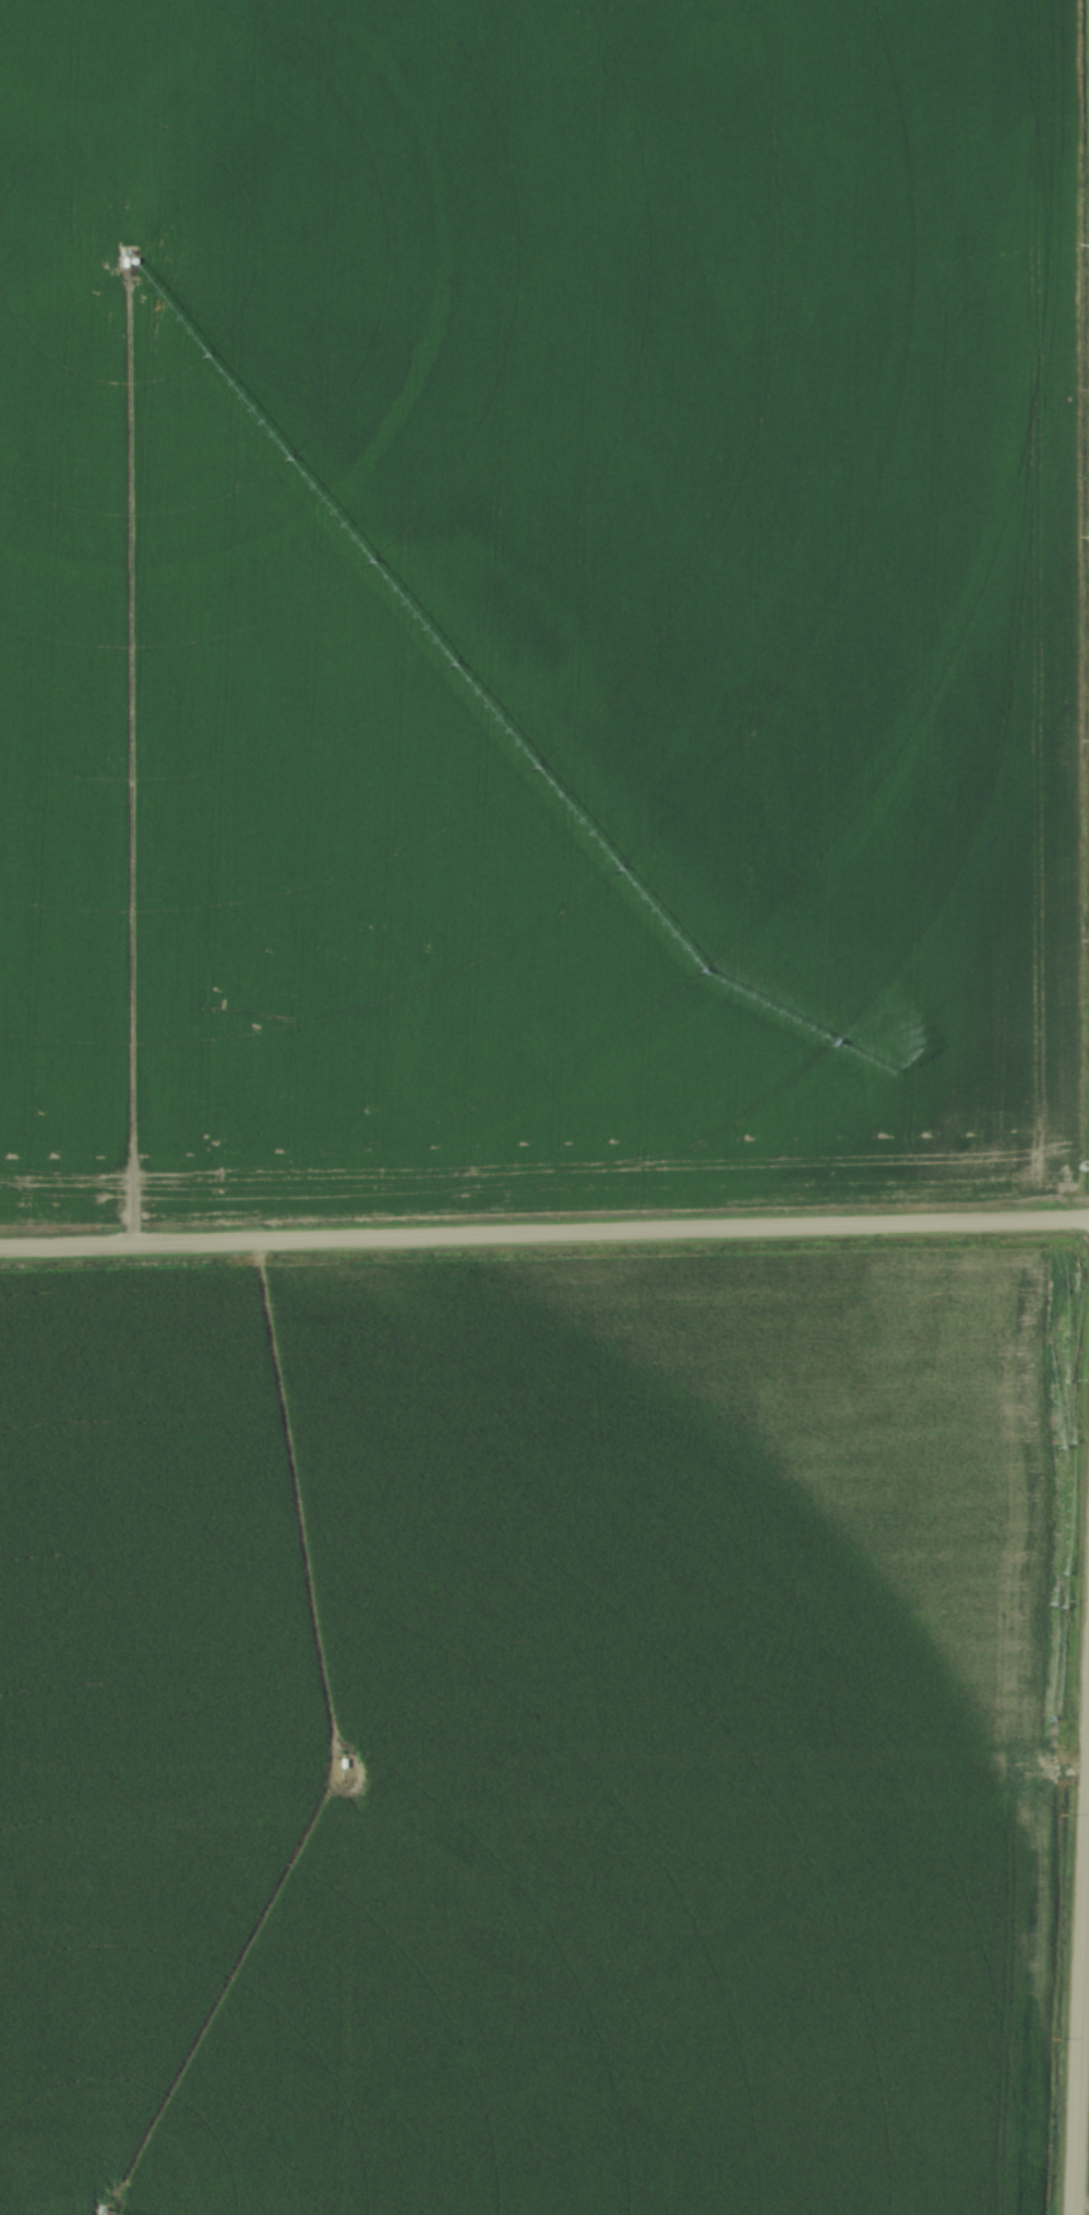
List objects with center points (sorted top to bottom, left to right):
road: (543, 1237)
road: (1077, 1914)

